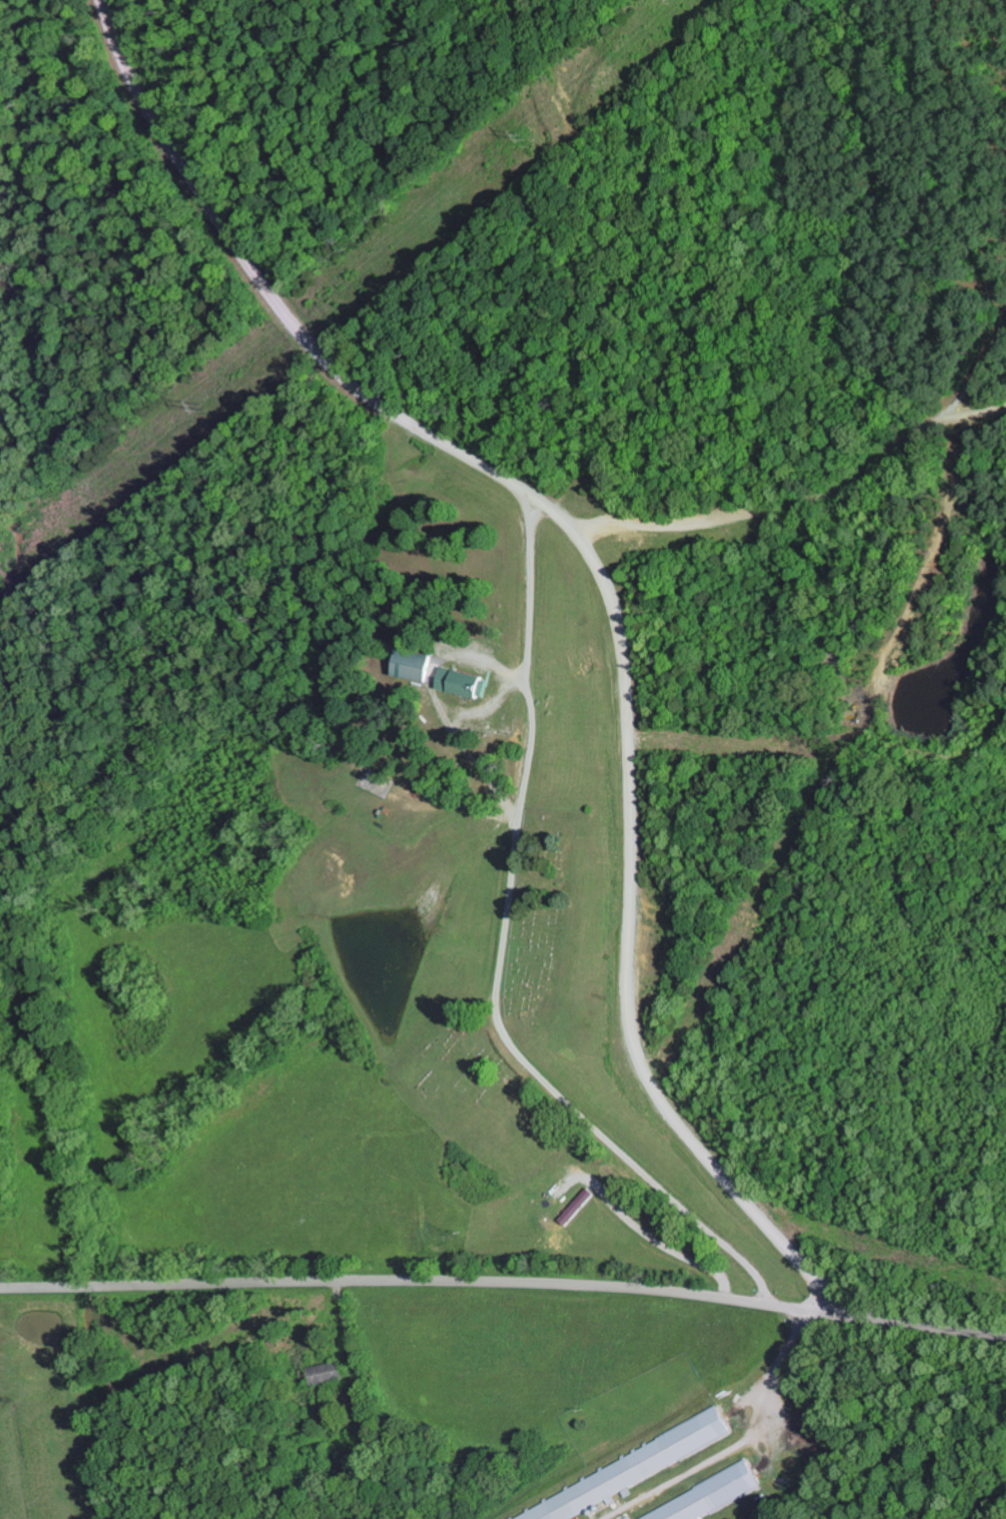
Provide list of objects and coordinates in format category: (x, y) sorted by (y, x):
road: (741, 289)
road: (603, 587)
building: (418, 666)
building: (467, 683)
park: (543, 916)
road: (502, 958)
park: (451, 1070)
building: (581, 1207)
road: (504, 1281)
building: (330, 1374)
building: (621, 1476)
building: (708, 1497)
building: (626, 1518)

